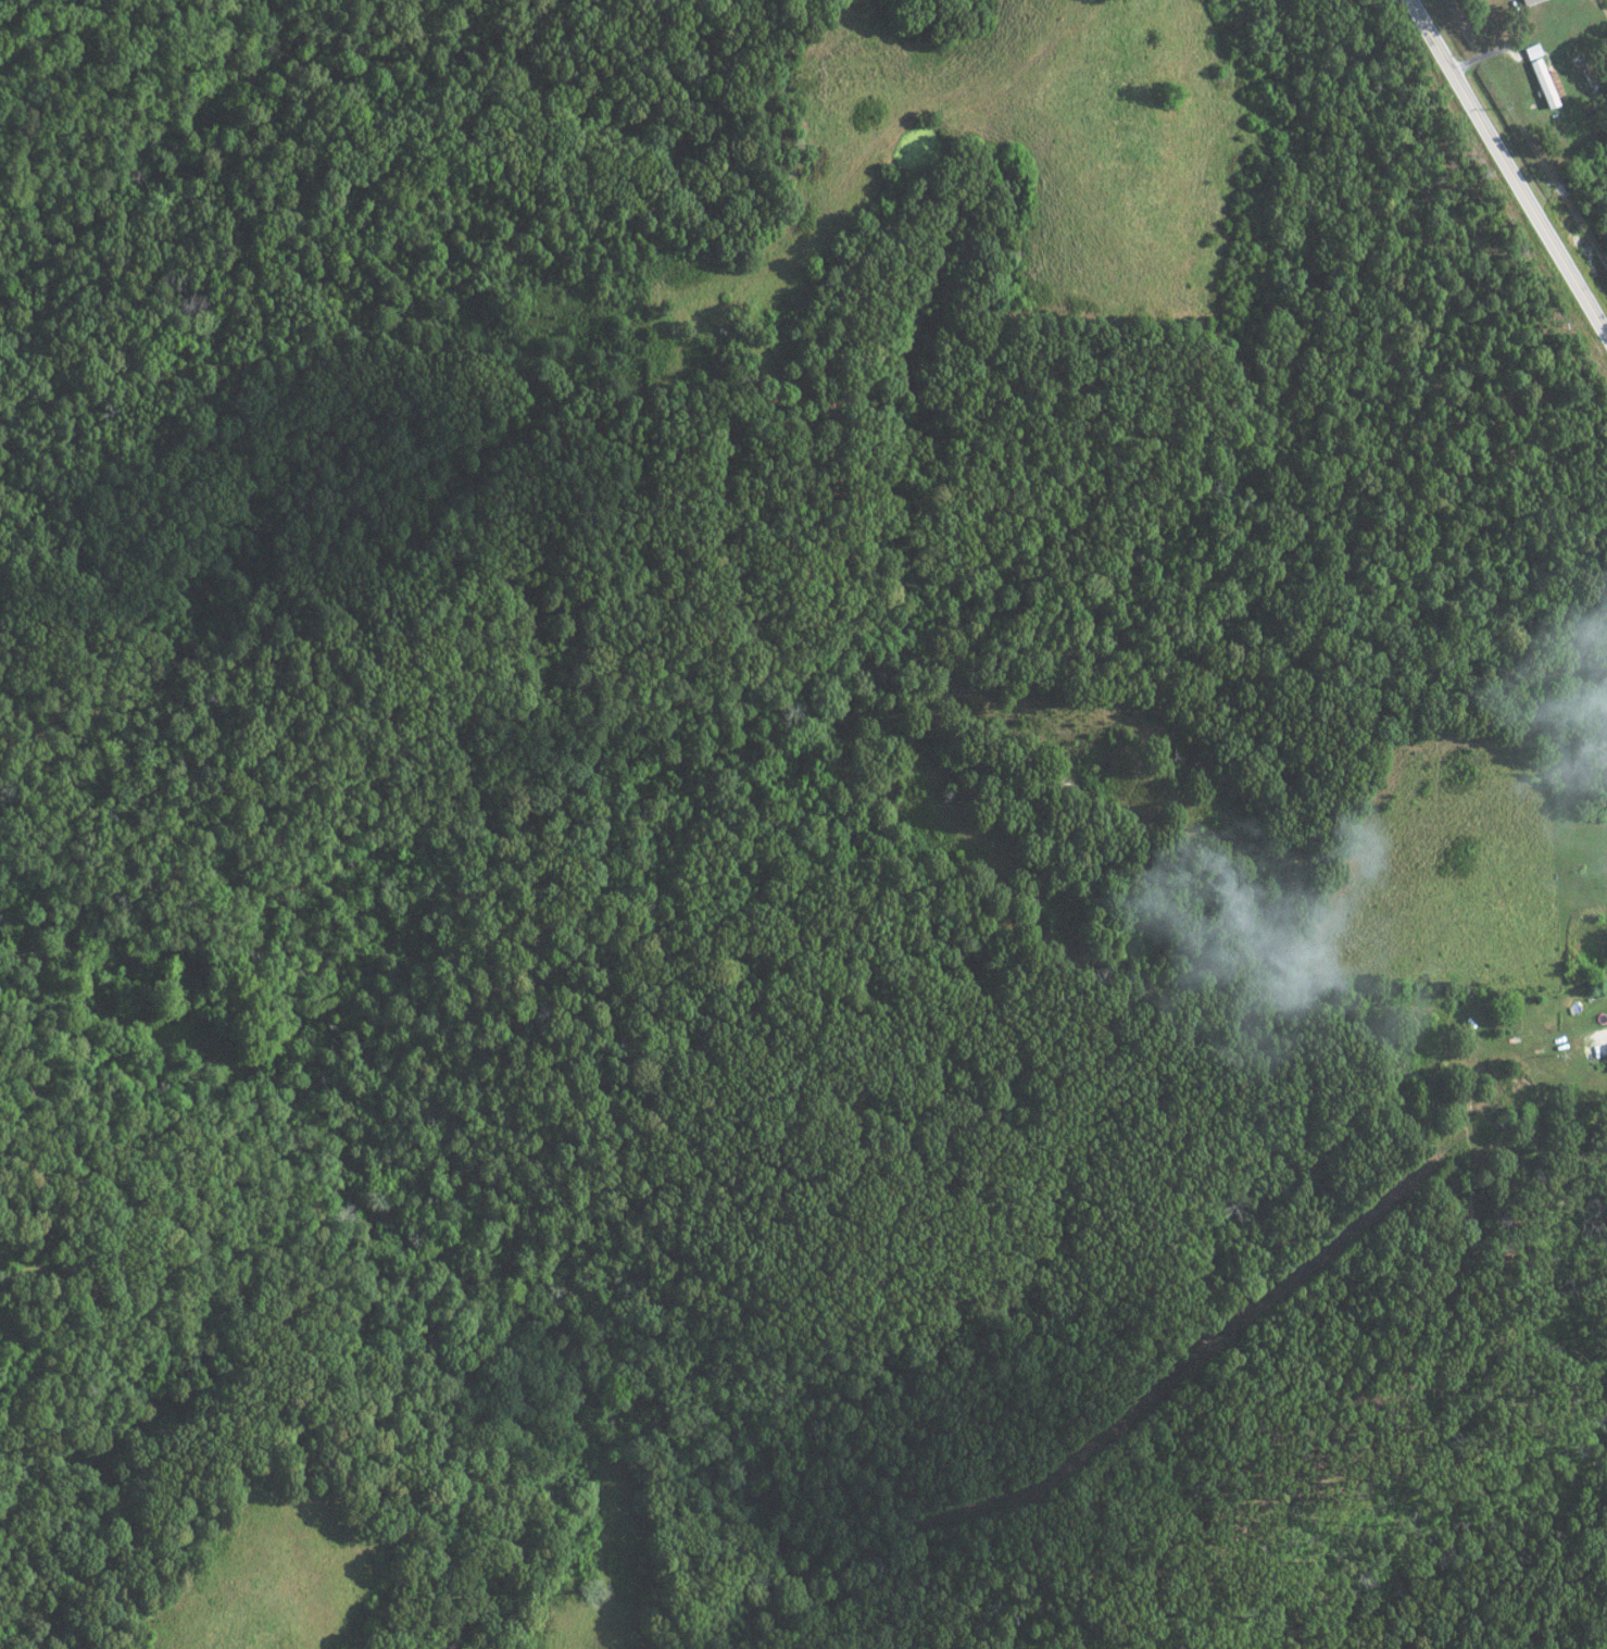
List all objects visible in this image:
building: (1530, 51)
building: (1543, 84)
road: (1507, 168)
building: (1605, 779)
building: (1606, 804)

